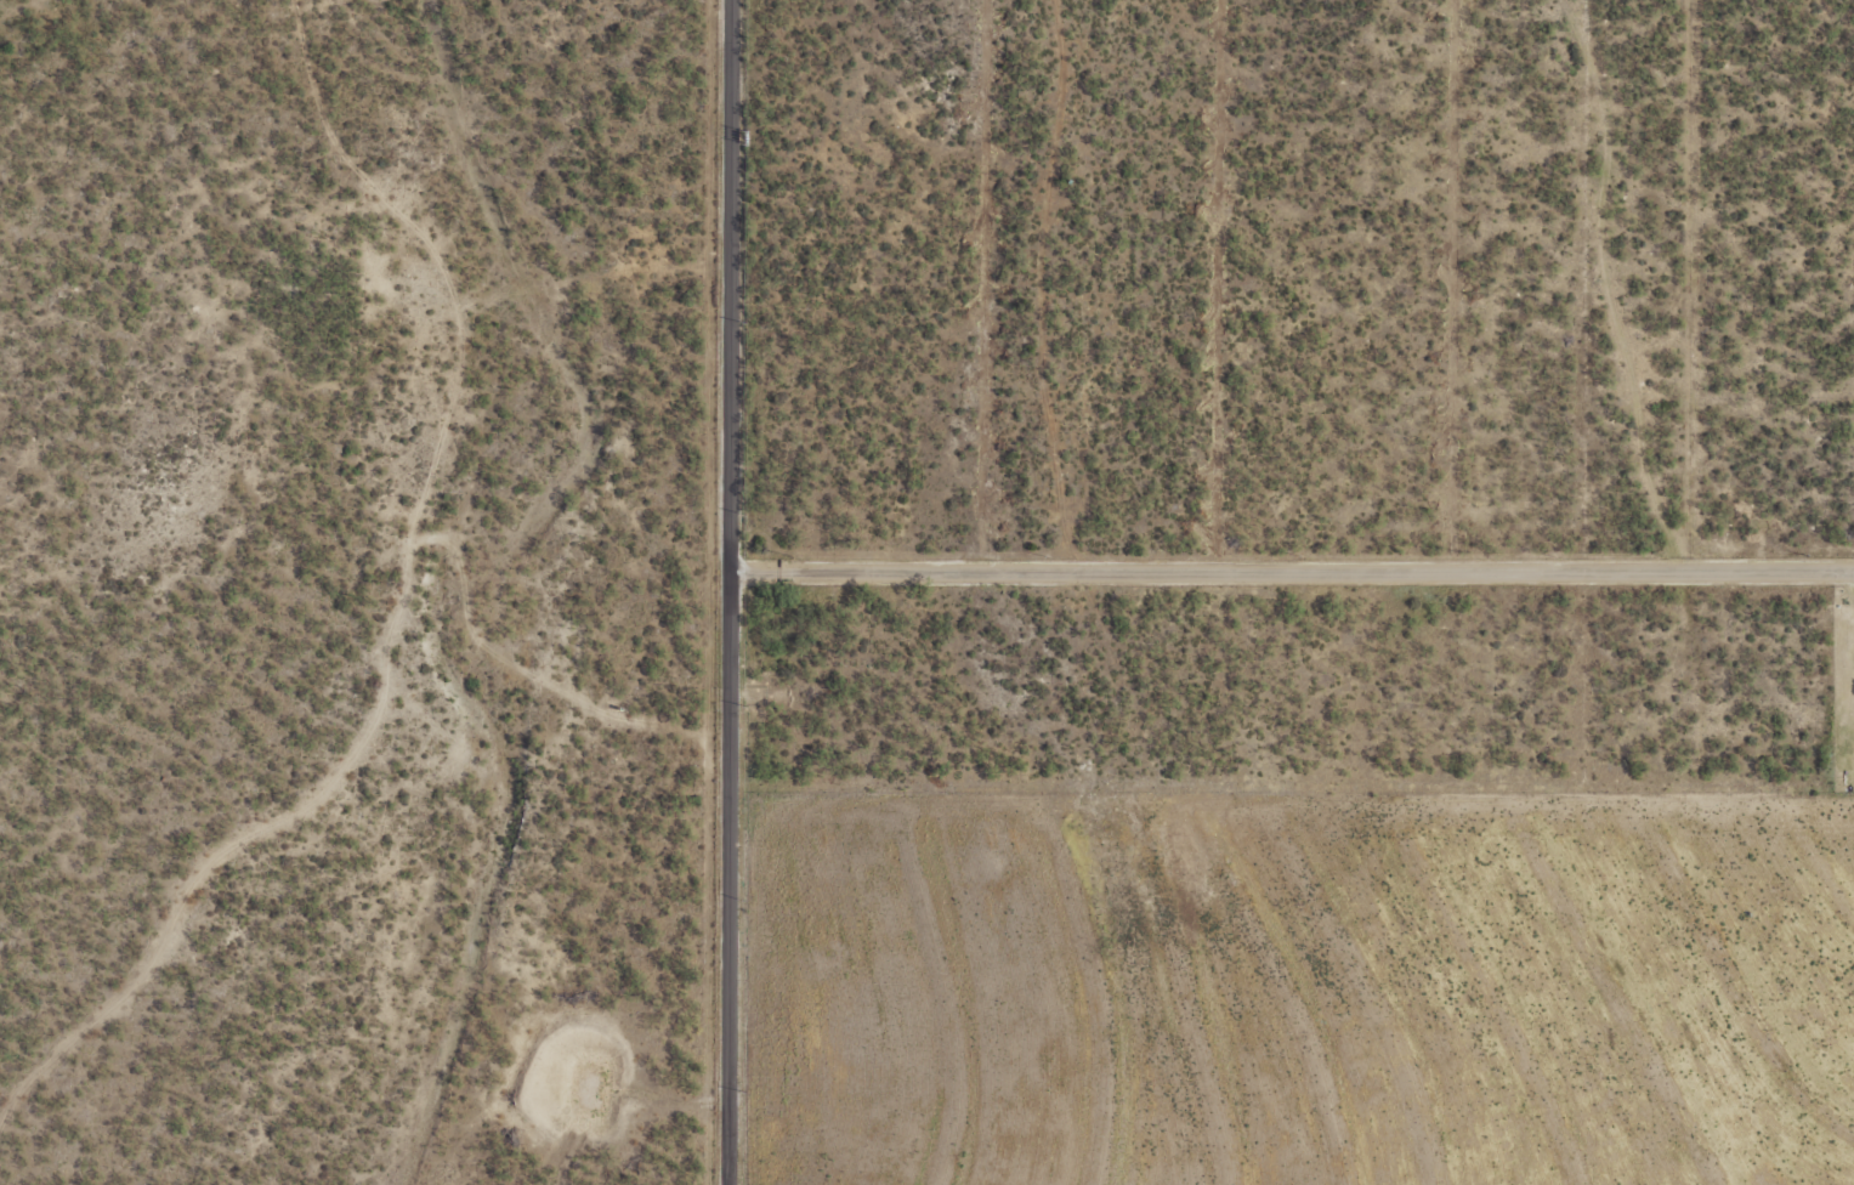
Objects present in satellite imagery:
road: (1295, 573)
road: (737, 592)

